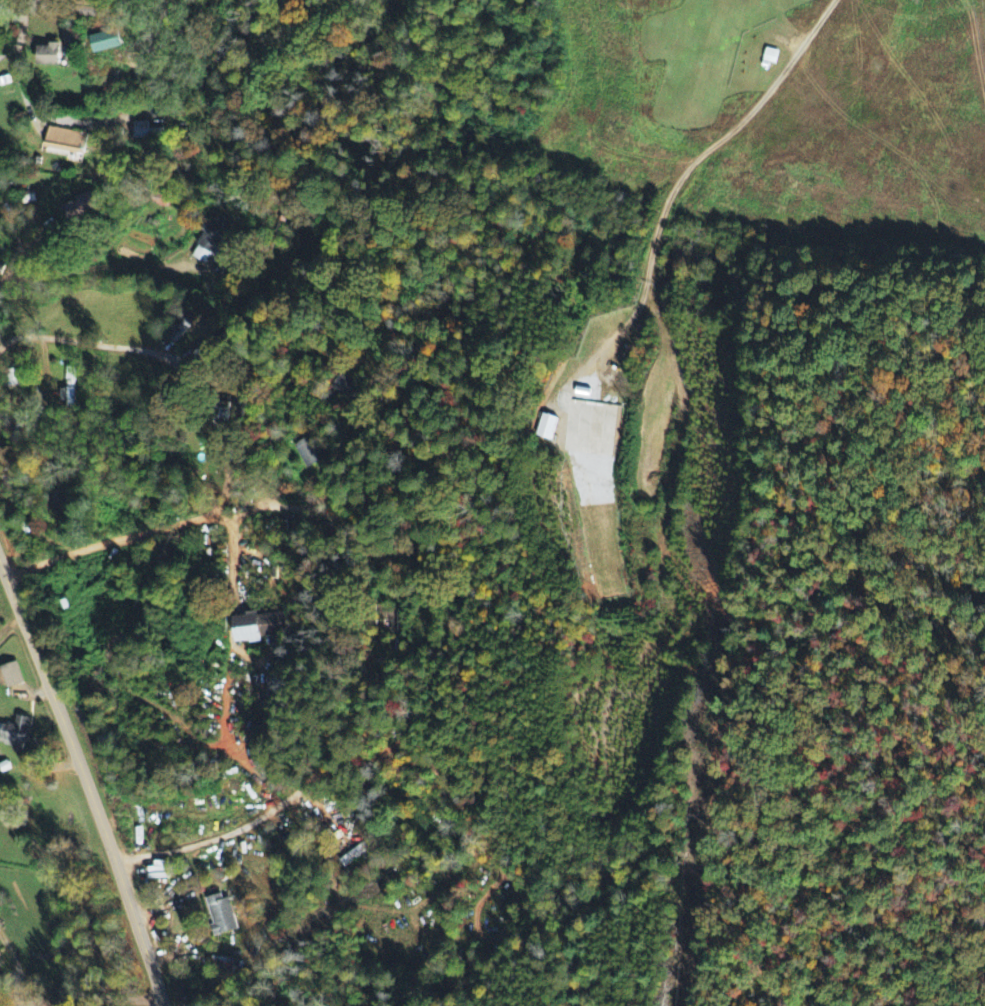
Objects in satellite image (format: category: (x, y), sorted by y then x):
road: (68, 9)
road: (11, 35)
building: (104, 43)
building: (48, 57)
building: (770, 59)
building: (66, 142)
road: (695, 160)
building: (79, 206)
road: (0, 227)
building: (210, 240)
road: (10, 261)
building: (13, 379)
building: (68, 389)
building: (546, 428)
building: (309, 452)
road: (148, 532)
building: (258, 627)
building: (10, 676)
building: (15, 734)
road: (86, 781)
building: (220, 915)
building: (1, 964)
road: (95, 997)

